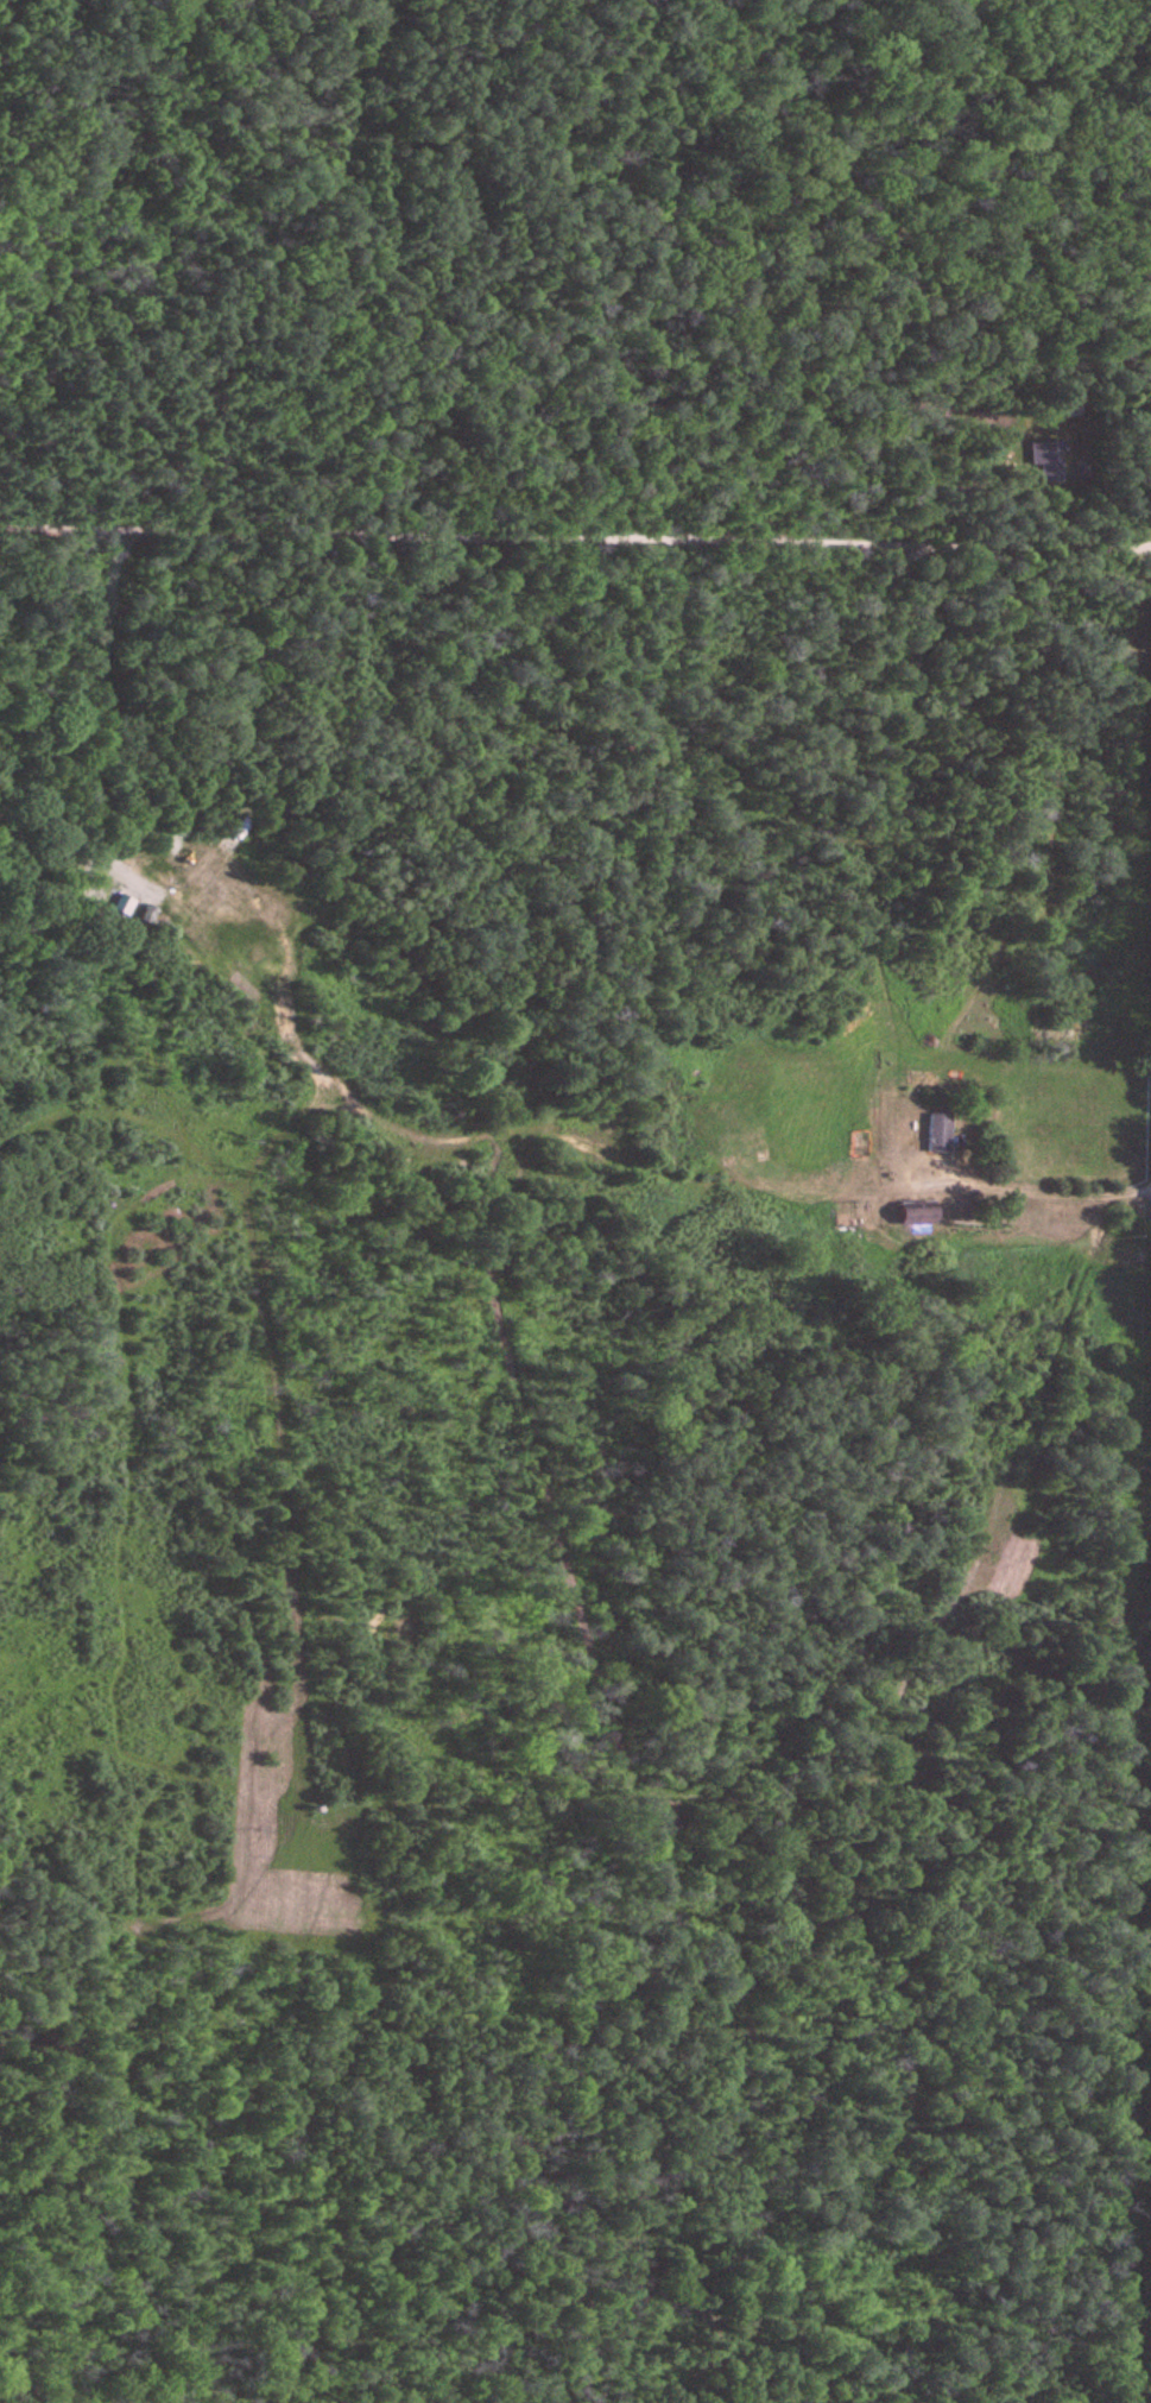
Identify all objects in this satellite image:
building: (1052, 461)
building: (940, 1133)
building: (917, 1213)
road: (1096, 1229)

